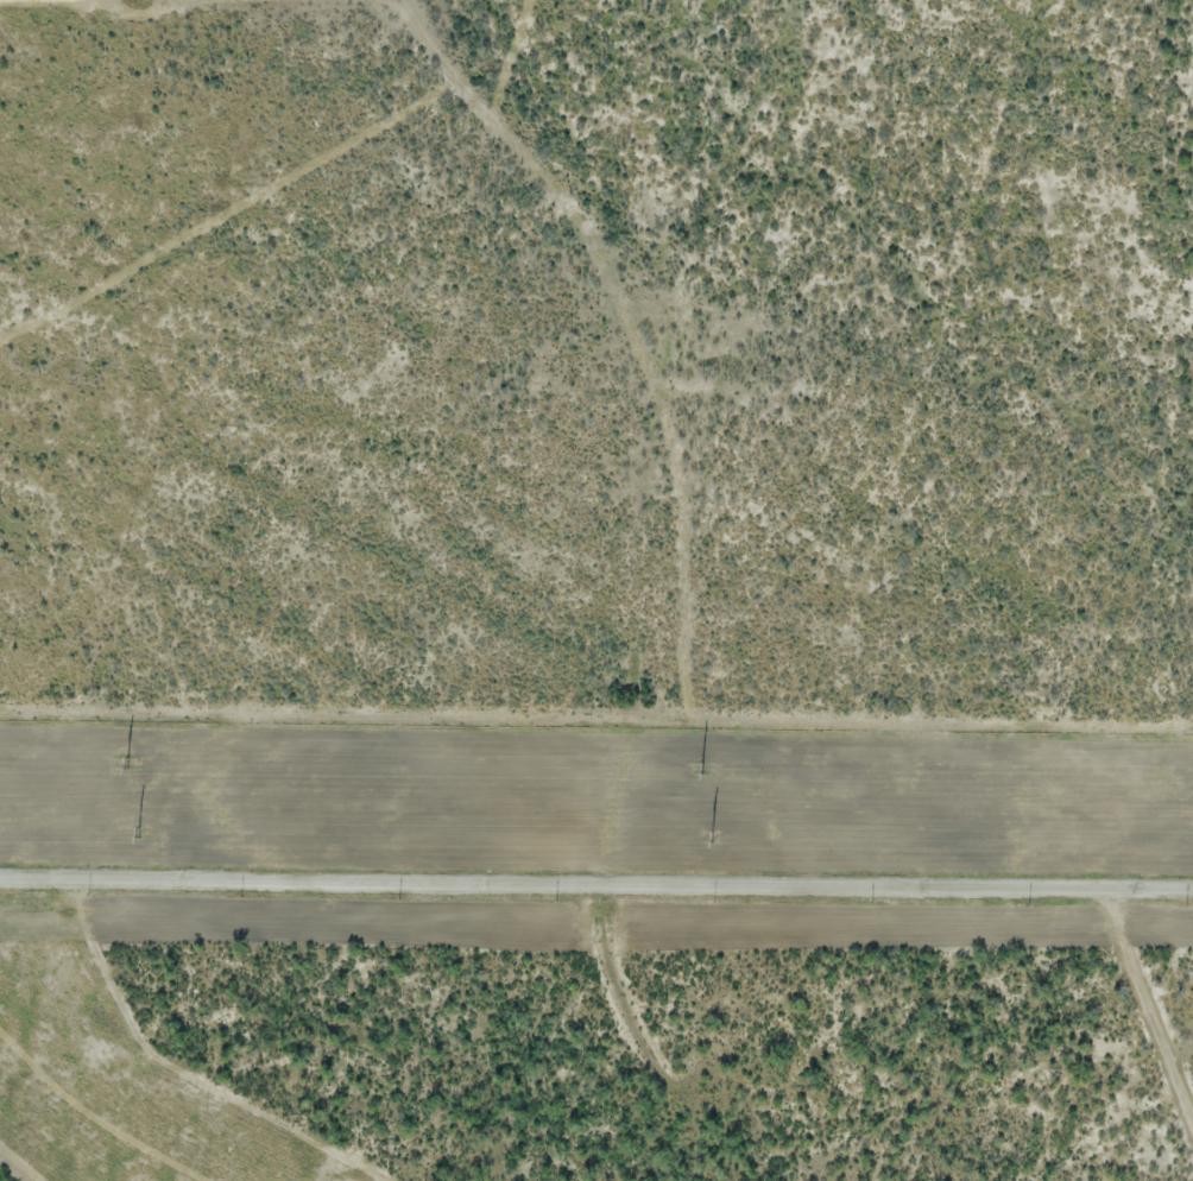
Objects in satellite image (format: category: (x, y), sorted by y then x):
power tower: (127, 762)
power tower: (700, 766)
power tower: (140, 833)
power tower: (712, 838)
road: (596, 882)

